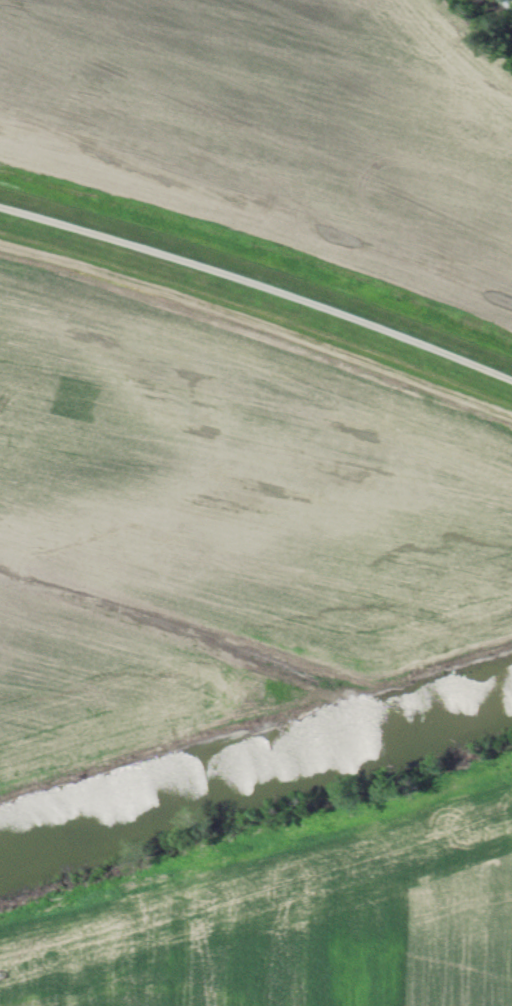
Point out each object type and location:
crop: (282, 130)
road: (258, 285)
crop: (215, 511)
crop: (297, 922)

